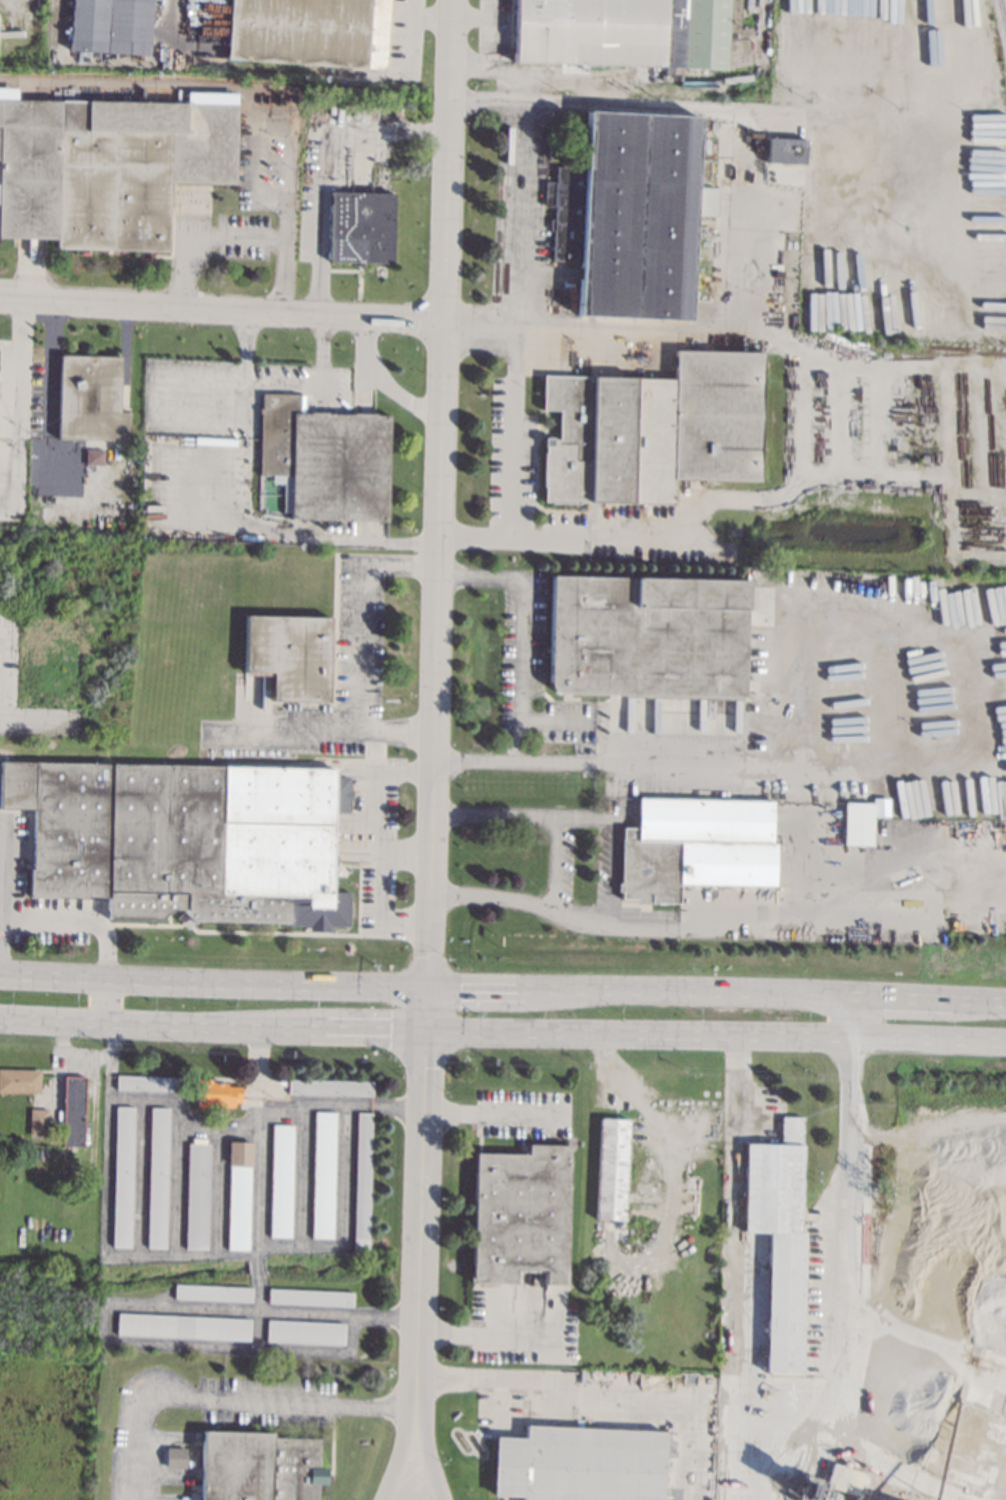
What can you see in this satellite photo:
railway: (1002, 15)
road: (411, 25)
building: (109, 26)
building: (309, 31)
building: (632, 33)
road: (164, 83)
building: (741, 86)
road: (573, 108)
building: (786, 150)
road: (320, 164)
building: (106, 168)
road: (287, 190)
building: (631, 214)
building: (361, 227)
road: (240, 233)
road: (728, 282)
road: (222, 312)
road: (517, 323)
road: (504, 328)
road: (20, 363)
road: (246, 372)
road: (317, 383)
road: (347, 384)
road: (382, 384)
road: (48, 396)
building: (90, 398)
road: (148, 398)
building: (665, 424)
road: (243, 443)
building: (94, 457)
road: (16, 458)
building: (325, 460)
road: (795, 490)
road: (439, 493)
building: (132, 495)
road: (291, 533)
road: (514, 540)
road: (368, 609)
building: (647, 635)
road: (790, 643)
building: (289, 655)
road: (517, 672)
road: (33, 719)
road: (358, 721)
road: (552, 721)
building: (881, 808)
building: (858, 823)
building: (189, 840)
building: (695, 846)
road: (610, 873)
road: (379, 887)
road: (73, 921)
road: (212, 981)
traffic signals: (426, 987)
road: (716, 991)
road: (104, 1000)
traffic signals: (426, 1031)
road: (502, 1031)
road: (252, 1072)
building: (19, 1080)
building: (150, 1083)
building: (329, 1087)
building: (215, 1093)
road: (489, 1110)
building: (72, 1111)
building: (37, 1121)
road: (225, 1130)
building: (903, 1140)
building: (921, 1152)
building: (920, 1160)
building: (611, 1169)
building: (917, 1170)
building: (322, 1174)
building: (122, 1176)
building: (157, 1177)
building: (911, 1178)
building: (281, 1180)
building: (361, 1182)
building: (196, 1195)
building: (237, 1195)
building: (913, 1196)
road: (421, 1210)
building: (520, 1213)
road: (844, 1229)
building: (778, 1239)
building: (211, 1292)
road: (258, 1292)
building: (309, 1297)
building: (183, 1326)
building: (304, 1332)
road: (611, 1377)
road: (826, 1379)
road: (228, 1396)
building: (175, 1458)
building: (579, 1464)
building: (258, 1466)
road: (400, 1466)
road: (429, 1466)
building: (843, 1479)

